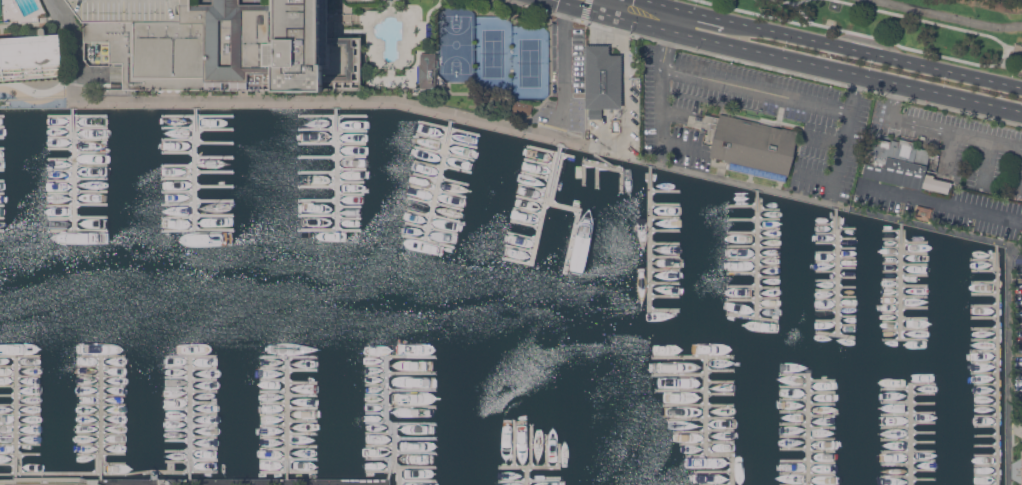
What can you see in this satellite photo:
traffic signals: (557, 0)
road: (793, 2)
road: (662, 3)
road: (576, 5)
road: (598, 5)
building: (20, 9)
road: (584, 9)
road: (802, 12)
road: (702, 13)
road: (949, 16)
road: (931, 21)
park: (911, 26)
road: (990, 30)
road: (863, 34)
building: (221, 44)
road: (1014, 46)
building: (30, 50)
road: (71, 50)
road: (874, 53)
park: (493, 54)
road: (809, 62)
park: (530, 64)
building: (427, 70)
building: (603, 78)
road: (754, 88)
road: (660, 93)
road: (386, 99)
building: (515, 106)
building: (526, 108)
road: (425, 109)
road: (626, 111)
pier: (2, 116)
pier: (78, 116)
pier: (197, 116)
pier: (333, 116)
parking lot: (814, 116)
building: (616, 125)
pier: (2, 127)
pier: (77, 127)
pier: (197, 128)
pier: (449, 128)
pier: (318, 129)
road: (940, 129)
pier: (352, 131)
road: (823, 136)
pier: (2, 138)
pier: (60, 138)
road: (842, 139)
pier: (90, 140)
pier: (178, 140)
pier: (446, 140)
pier: (215, 143)
pier: (332, 143)
building: (751, 143)
pier: (2, 148)
pier: (60, 148)
pier: (429, 150)
pier: (551, 151)
pier: (178, 152)
pier: (91, 153)
pier: (215, 157)
pier: (332, 157)
pier: (459, 157)
pier: (2, 159)
pier: (61, 159)
pier: (588, 161)
pier: (539, 162)
road: (985, 163)
pier: (427, 164)
pier: (91, 165)
pier: (178, 165)
building: (902, 165)
pier: (337, 166)
pier: (74, 167)
pier: (196, 167)
pier: (616, 167)
pier: (352, 169)
pier: (457, 169)
pier: (2, 170)
pier: (60, 170)
pier: (215, 172)
pier: (318, 173)
road: (815, 173)
pier: (536, 175)
pier: (596, 175)
pier: (426, 176)
pier: (91, 178)
pier: (179, 178)
pier: (439, 178)
road: (711, 179)
pier: (2, 181)
pier: (61, 181)
pier: (454, 181)
pier: (351, 182)
parking lot: (961, 183)
pier: (214, 186)
pier: (318, 187)
pier: (423, 188)
pier: (534, 188)
road: (1021, 190)
pier: (665, 191)
pier: (78, 192)
pier: (178, 192)
pier: (2, 193)
pier: (451, 193)
pier: (351, 194)
pier: (531, 198)
pier: (318, 200)
pier: (420, 200)
pier: (214, 201)
pier: (546, 203)
pier: (178, 204)
pier: (665, 204)
road: (944, 204)
pier: (78, 205)
pier: (742, 205)
pier: (2, 206)
pier: (349, 206)
pier: (448, 206)
pier: (769, 209)
pier: (528, 211)
building: (923, 212)
pier: (419, 213)
pier: (318, 215)
pier: (198, 216)
pier: (77, 217)
pier: (665, 217)
pier: (2, 218)
pier: (349, 218)
pier: (446, 218)
pier: (752, 219)
pier: (825, 223)
pier: (526, 224)
pier: (576, 225)
pier: (431, 228)
pier: (769, 228)
pier: (846, 228)
pier: (77, 230)
pier: (329, 230)
pier: (665, 230)
pier: (892, 230)
pier: (2, 231)
pier: (198, 231)
pier: (742, 232)
pier: (826, 232)
pier: (523, 235)
pier: (769, 238)
pier: (846, 238)
pier: (892, 238)
pier: (428, 240)
pier: (826, 242)
pier: (915, 242)
pier: (665, 243)
pier: (753, 246)
pier: (892, 247)
pier: (520, 248)
pier: (846, 248)
pier: (650, 251)
pier: (826, 252)
pier: (915, 252)
pier: (758, 253)
pier: (892, 255)
pier: (665, 256)
pier: (769, 256)
pier: (846, 258)
pier: (742, 259)
pier: (984, 260)
pier: (826, 261)
pier: (518, 262)
pier: (905, 263)
pier: (769, 266)
pier: (846, 267)
pier: (665, 270)
pier: (837, 270)
pier: (826, 271)
pier: (892, 271)
pier: (984, 271)
pier: (742, 273)
pier: (915, 274)
pier: (768, 277)
pier: (846, 277)
pier: (892, 279)
pier: (826, 280)
pier: (902, 280)
pier: (665, 282)
pier: (984, 284)
road: (1010, 284)
pier: (915, 285)
pier: (846, 286)
pier: (753, 287)
pier: (892, 287)
pier: (826, 290)
pier: (665, 295)
pier: (983, 295)
pier: (847, 296)
pier: (905, 296)
pier: (768, 298)
pier: (826, 299)
pier: (742, 300)
pier: (892, 304)
pier: (847, 306)
pier: (984, 306)
pier: (768, 307)
pier: (914, 307)
pier: (826, 309)
pier: (892, 312)
pier: (847, 315)
pier: (753, 317)
pier: (984, 317)
pier: (914, 318)
pier: (826, 320)
pier: (892, 321)
pier: (847, 325)
pier: (984, 329)
pier: (905, 330)
pier: (836, 334)
pier: (984, 339)
pier: (905, 340)
pier: (983, 351)
pier: (20, 356)
pier: (101, 356)
pier: (191, 356)
pier: (288, 356)
pier: (400, 356)
pier: (693, 356)
pier: (984, 362)
pier: (997, 363)
pier: (20, 366)
pier: (101, 366)
pier: (376, 366)
pier: (177, 367)
pier: (203, 367)
pier: (273, 368)
pier: (302, 370)
pier: (719, 370)
pier: (411, 373)
pier: (984, 373)
pier: (679, 374)
pier: (376, 375)
pier: (20, 376)
pier: (101, 376)
pier: (177, 378)
pier: (203, 379)
pier: (273, 380)
pier: (822, 380)
pier: (720, 382)
pier: (302, 383)
pier: (376, 384)
pier: (986, 384)
pier: (20, 386)
pier: (101, 386)
pier: (794, 386)
pier: (177, 388)
pier: (896, 389)
pier: (412, 390)
pier: (203, 391)
pier: (680, 391)
pier: (273, 392)
pier: (822, 392)
pier: (376, 394)
pier: (720, 394)
pier: (923, 394)
pier: (985, 394)
pier: (20, 395)
pier: (101, 395)
pier: (302, 395)
pier: (177, 398)
pier: (794, 399)
pier: (908, 402)
pier: (203, 403)
pier: (273, 403)
pier: (822, 403)
pier: (20, 404)
pier: (376, 404)
pier: (101, 405)
pier: (699, 405)
pier: (985, 405)
pier: (412, 406)
pier: (302, 408)
pier: (177, 409)
pier: (794, 411)
pier: (204, 413)
pier: (376, 413)
pier: (908, 413)
pier: (101, 414)
pier: (20, 415)
pier: (273, 415)
pier: (822, 415)
pier: (191, 416)
pier: (808, 416)
pier: (985, 416)
pier: (15, 417)
pier: (101, 417)
pier: (287, 417)
pier: (178, 419)
pier: (701, 419)
pier: (302, 421)
pier: (376, 422)
pier: (388, 422)
pier: (911, 422)
pier: (923, 422)
pier: (794, 423)
pier: (101, 424)
pier: (20, 425)
pier: (204, 425)
pier: (273, 425)
pier: (415, 425)
pier: (985, 426)
pier: (822, 427)
pier: (896, 427)
pier: (178, 430)
pier: (923, 431)
pier: (704, 432)
pier: (302, 433)
pier: (380, 433)
pier: (706, 433)
pier: (20, 434)
pier: (101, 434)
pier: (794, 436)
pier: (986, 436)
pier: (204, 437)
pier: (273, 437)
pier: (416, 438)
pier: (822, 438)
pier: (897, 439)
pier: (178, 440)
pier: (924, 442)
pier: (513, 443)
pier: (20, 444)
pier: (101, 444)
pier: (707, 444)
pier: (531, 445)
pier: (302, 446)
pier: (380, 446)
pier: (985, 446)
pier: (204, 448)
pier: (794, 448)
pier: (273, 449)
pier: (178, 451)
pier: (547, 451)
pier: (822, 451)
pier: (416, 452)
pier: (909, 452)
pier: (20, 454)
pier: (101, 454)
pier: (696, 454)
pier: (985, 455)
pier: (302, 458)
pier: (380, 458)
pier: (273, 460)
pier: (794, 460)
pier: (924, 460)
pier: (191, 461)
building: (1021, 462)
pier: (114, 463)
pier: (822, 463)
pier: (20, 464)
pier: (897, 464)
pier: (986, 465)
pier: (541, 467)
road: (1015, 467)
pier: (391, 468)
pier: (418, 468)
pier: (924, 469)
pier: (384, 471)
pier: (713, 471)
pier: (289, 472)
pier: (808, 473)
pier: (108, 474)
pier: (986, 475)
pier: (527, 476)
pier: (897, 476)
pier: (924, 479)
pier: (418, 481)
pier: (529, 481)
pier: (716, 484)
pier: (808, 484)
pier: (985, 484)

